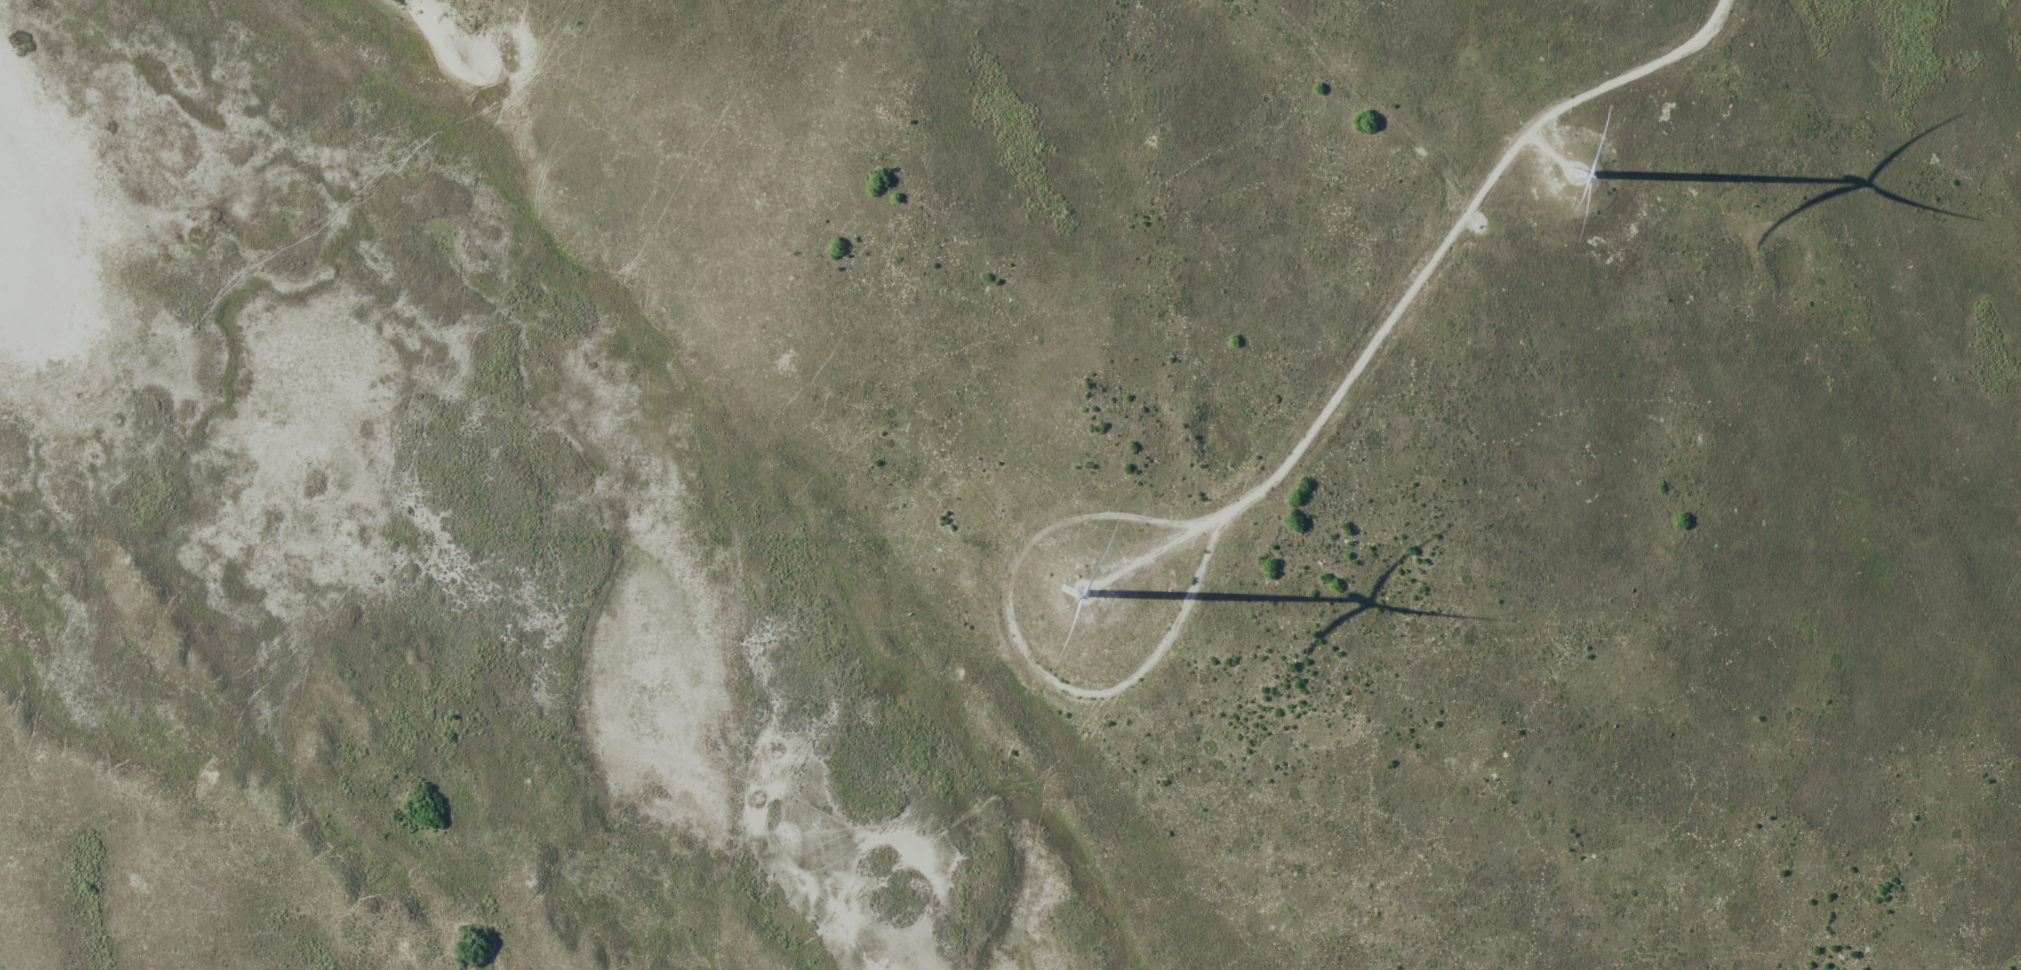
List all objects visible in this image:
wind turbine: (1577, 176)
wind turbine: (1083, 595)

